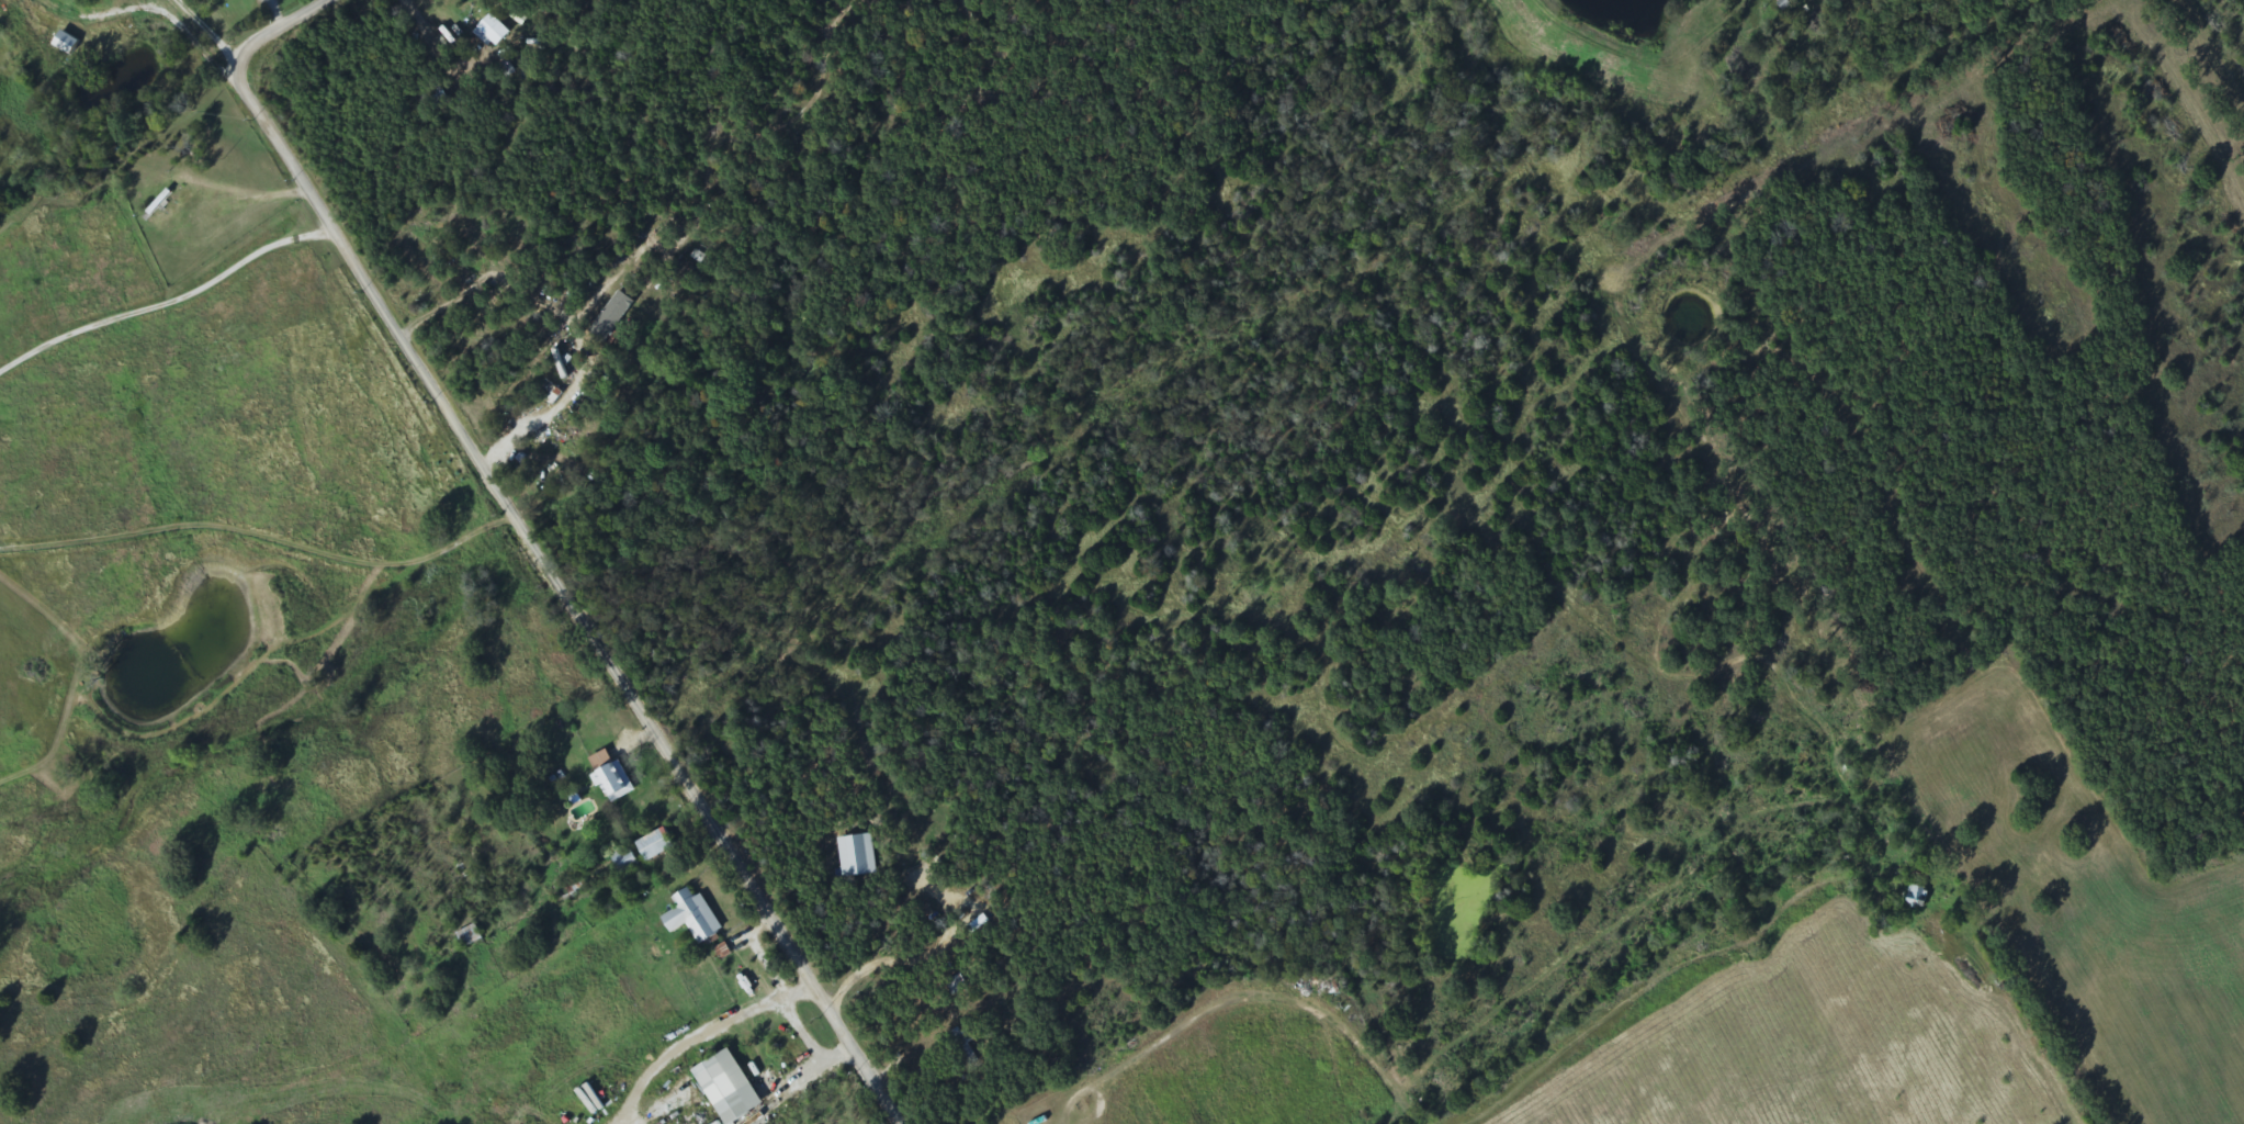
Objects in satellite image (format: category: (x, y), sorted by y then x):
building: (67, 45)
building: (169, 210)
road: (165, 300)
building: (606, 316)
road: (531, 543)
building: (609, 776)
building: (652, 845)
building: (853, 855)
building: (689, 915)
road: (2018, 1072)
building: (722, 1087)

